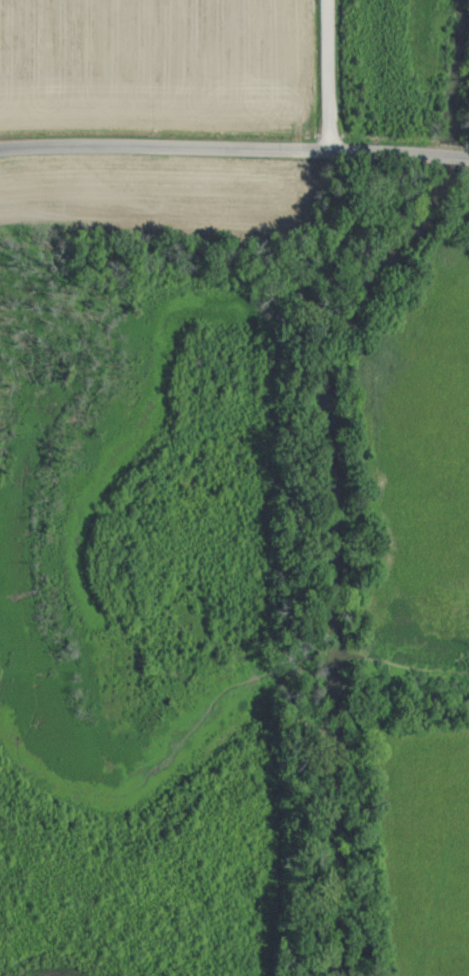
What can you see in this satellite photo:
road: (321, 73)
road: (234, 144)

